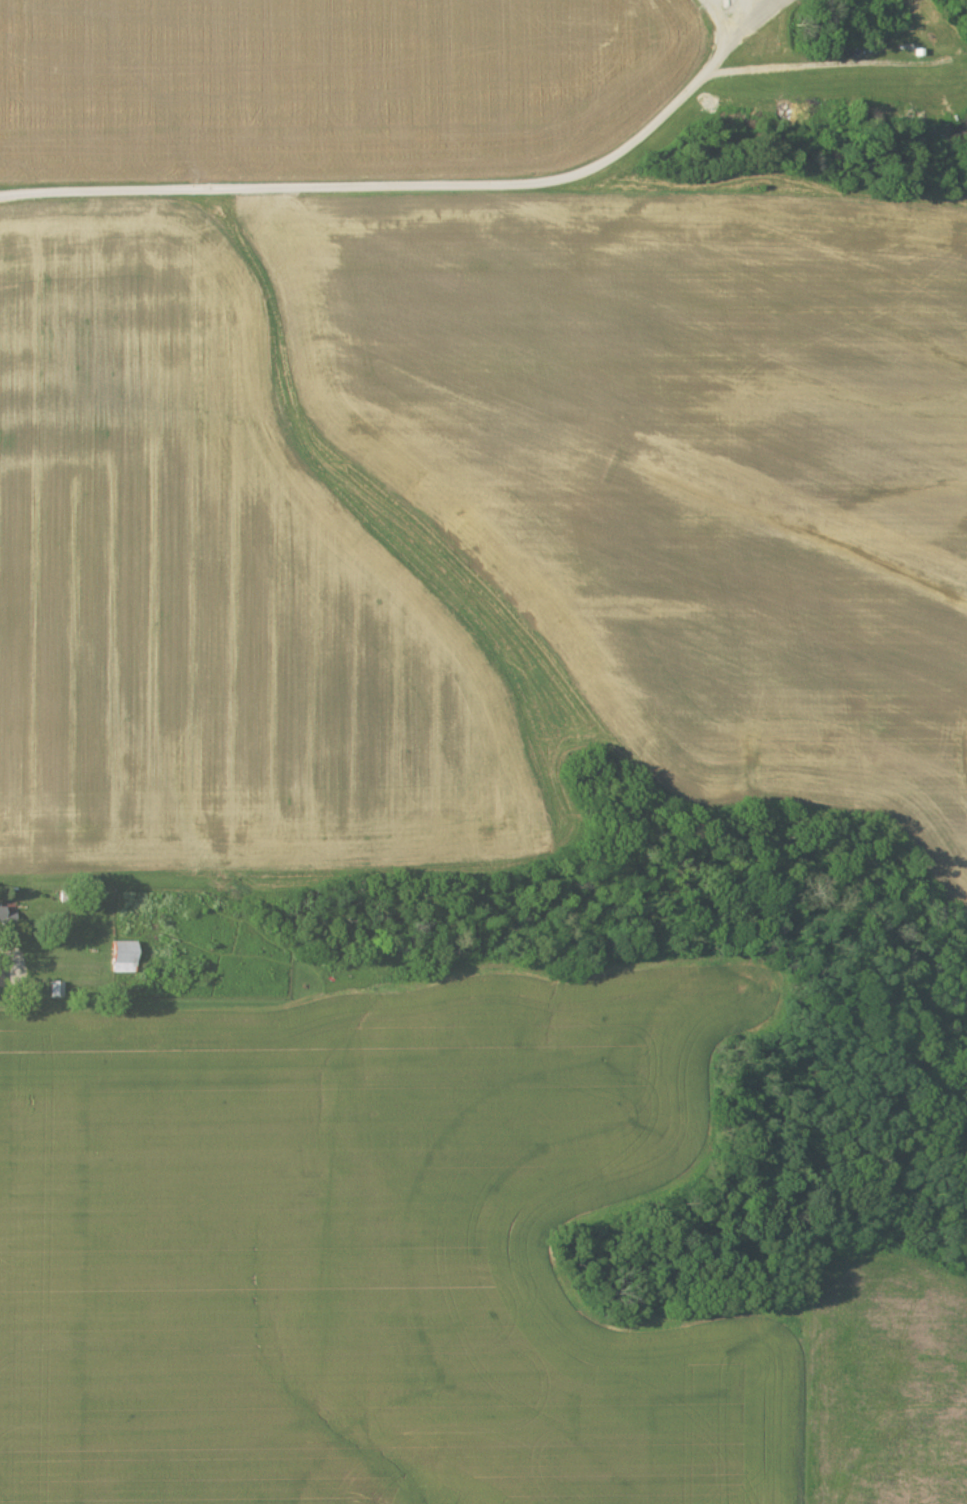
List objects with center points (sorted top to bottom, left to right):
road: (413, 182)
building: (120, 956)

